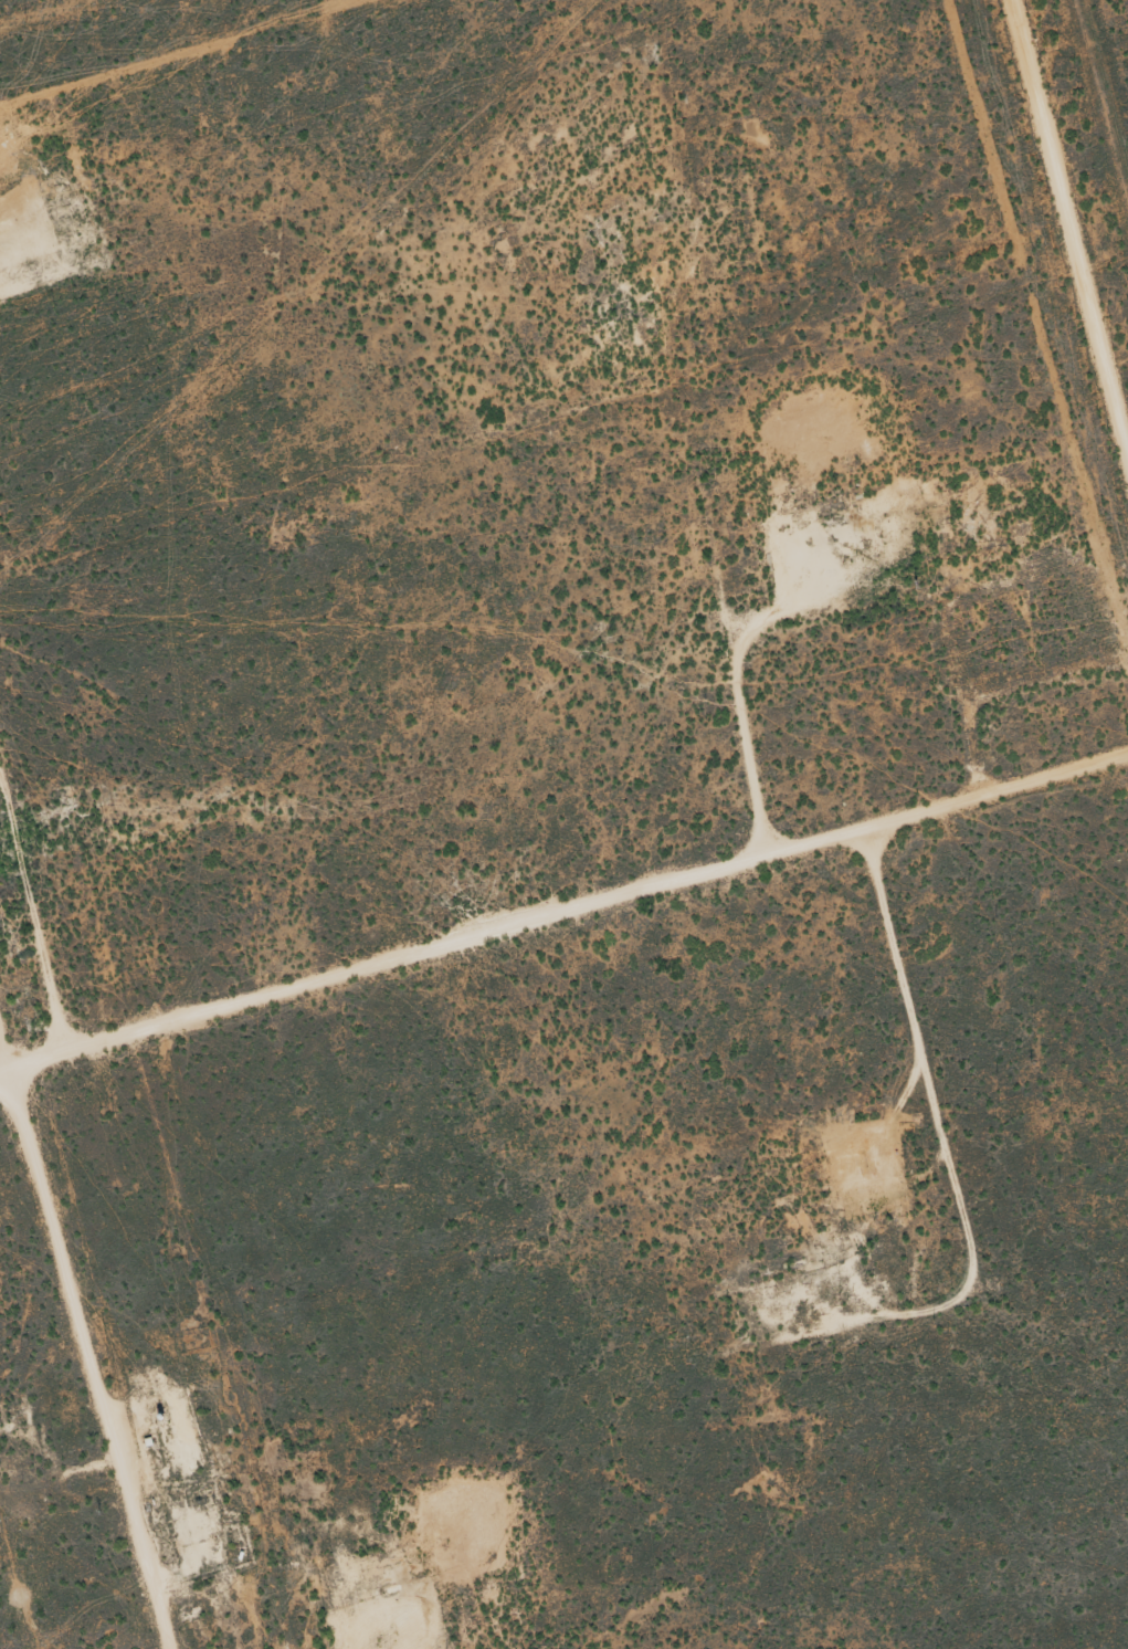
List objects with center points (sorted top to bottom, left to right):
road: (1073, 219)

